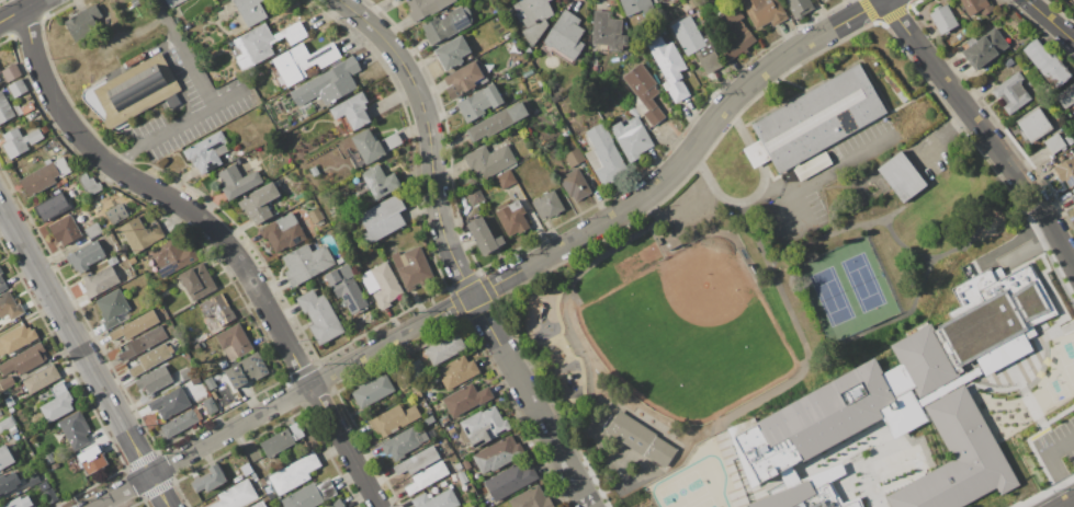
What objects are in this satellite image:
building: (392, 0)
building: (819, 0)
building: (134, 2)
building: (172, 2)
building: (635, 5)
building: (975, 5)
building: (423, 8)
building: (798, 8)
road: (20, 11)
building: (249, 11)
building: (762, 12)
road: (162, 15)
building: (531, 18)
building: (941, 20)
road: (1050, 21)
building: (81, 22)
building: (443, 25)
building: (606, 31)
building: (733, 32)
building: (563, 36)
building: (261, 43)
building: (693, 43)
building: (984, 48)
building: (451, 53)
building: (301, 61)
building: (1044, 64)
building: (668, 68)
road: (192, 69)
building: (10, 72)
building: (0, 77)
building: (461, 79)
building: (327, 83)
building: (16, 89)
building: (132, 92)
building: (643, 92)
building: (1010, 93)
building: (1066, 95)
parking lot: (190, 102)
building: (477, 103)
building: (4, 110)
building: (350, 110)
building: (817, 118)
building: (496, 122)
road: (178, 123)
building: (1032, 124)
road: (984, 129)
building: (631, 137)
road: (943, 137)
building: (18, 140)
building: (1053, 142)
building: (372, 145)
parking lot: (934, 149)
building: (205, 151)
road: (956, 152)
building: (603, 154)
building: (573, 158)
building: (488, 161)
road: (997, 164)
building: (1065, 171)
road: (824, 175)
building: (43, 176)
building: (900, 176)
building: (505, 178)
building: (236, 181)
building: (378, 181)
building: (88, 184)
building: (574, 184)
parking lot: (822, 184)
road: (778, 186)
road: (758, 192)
building: (473, 197)
building: (1072, 198)
road: (909, 201)
building: (258, 203)
building: (546, 205)
building: (50, 206)
parking lot: (687, 206)
road: (675, 208)
building: (115, 212)
building: (314, 216)
building: (510, 217)
road: (882, 218)
building: (380, 219)
road: (657, 221)
building: (91, 229)
building: (64, 230)
building: (281, 232)
road: (216, 233)
building: (482, 233)
building: (139, 234)
road: (451, 253)
building: (83, 255)
building: (171, 256)
building: (304, 263)
road: (543, 266)
building: (410, 267)
building: (0, 272)
road: (581, 272)
road: (507, 277)
road: (562, 277)
building: (99, 281)
building: (196, 281)
building: (380, 284)
building: (1, 285)
building: (344, 288)
park: (848, 289)
building: (9, 306)
park: (737, 306)
building: (111, 308)
road: (789, 311)
building: (214, 312)
building: (318, 316)
building: (134, 325)
park: (690, 333)
building: (15, 338)
building: (234, 339)
building: (142, 343)
road: (833, 347)
building: (443, 348)
road: (84, 356)
building: (23, 359)
building: (149, 359)
building: (904, 369)
building: (245, 370)
building: (455, 371)
park: (1056, 373)
building: (39, 379)
building: (152, 379)
building: (5, 382)
building: (210, 384)
building: (372, 391)
building: (464, 399)
building: (56, 402)
building: (169, 403)
building: (208, 405)
road: (636, 418)
building: (393, 419)
building: (5, 423)
building: (178, 423)
building: (483, 426)
building: (74, 430)
building: (638, 438)
building: (280, 439)
building: (402, 442)
road: (566, 443)
parking lot: (1056, 447)
building: (496, 454)
building: (4, 457)
road: (606, 458)
building: (957, 458)
building: (90, 460)
building: (415, 460)
road: (1050, 461)
building: (245, 469)
building: (292, 473)
building: (425, 476)
road: (648, 476)
building: (208, 480)
building: (509, 480)
building: (31, 481)
park: (693, 482)
building: (8, 483)
building: (46, 492)
building: (235, 495)
building: (308, 495)
road: (595, 496)
building: (807, 496)
road: (1072, 496)
building: (529, 498)
building: (434, 499)
building: (18, 503)
road: (1061, 503)
building: (333, 504)
building: (258, 505)
building: (470, 506)

